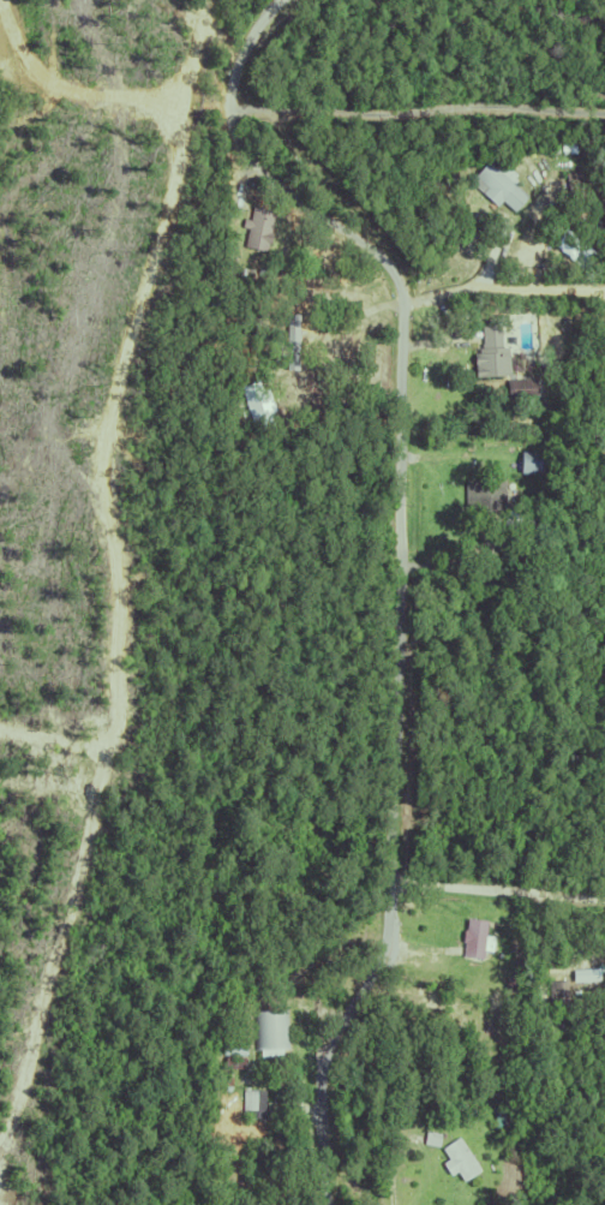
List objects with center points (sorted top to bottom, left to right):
road: (419, 109)
building: (493, 181)
building: (574, 185)
building: (256, 228)
road: (502, 285)
building: (490, 354)
building: (519, 388)
building: (253, 407)
building: (529, 463)
building: (483, 495)
building: (510, 519)
road: (397, 563)
road: (496, 888)
building: (474, 933)
building: (513, 973)
building: (556, 988)
building: (268, 1027)
building: (232, 1039)
building: (230, 1058)
building: (235, 1063)
building: (256, 1075)
building: (223, 1078)
building: (227, 1104)
building: (502, 1108)
building: (250, 1111)
building: (496, 1118)
building: (513, 1145)
building: (456, 1155)

